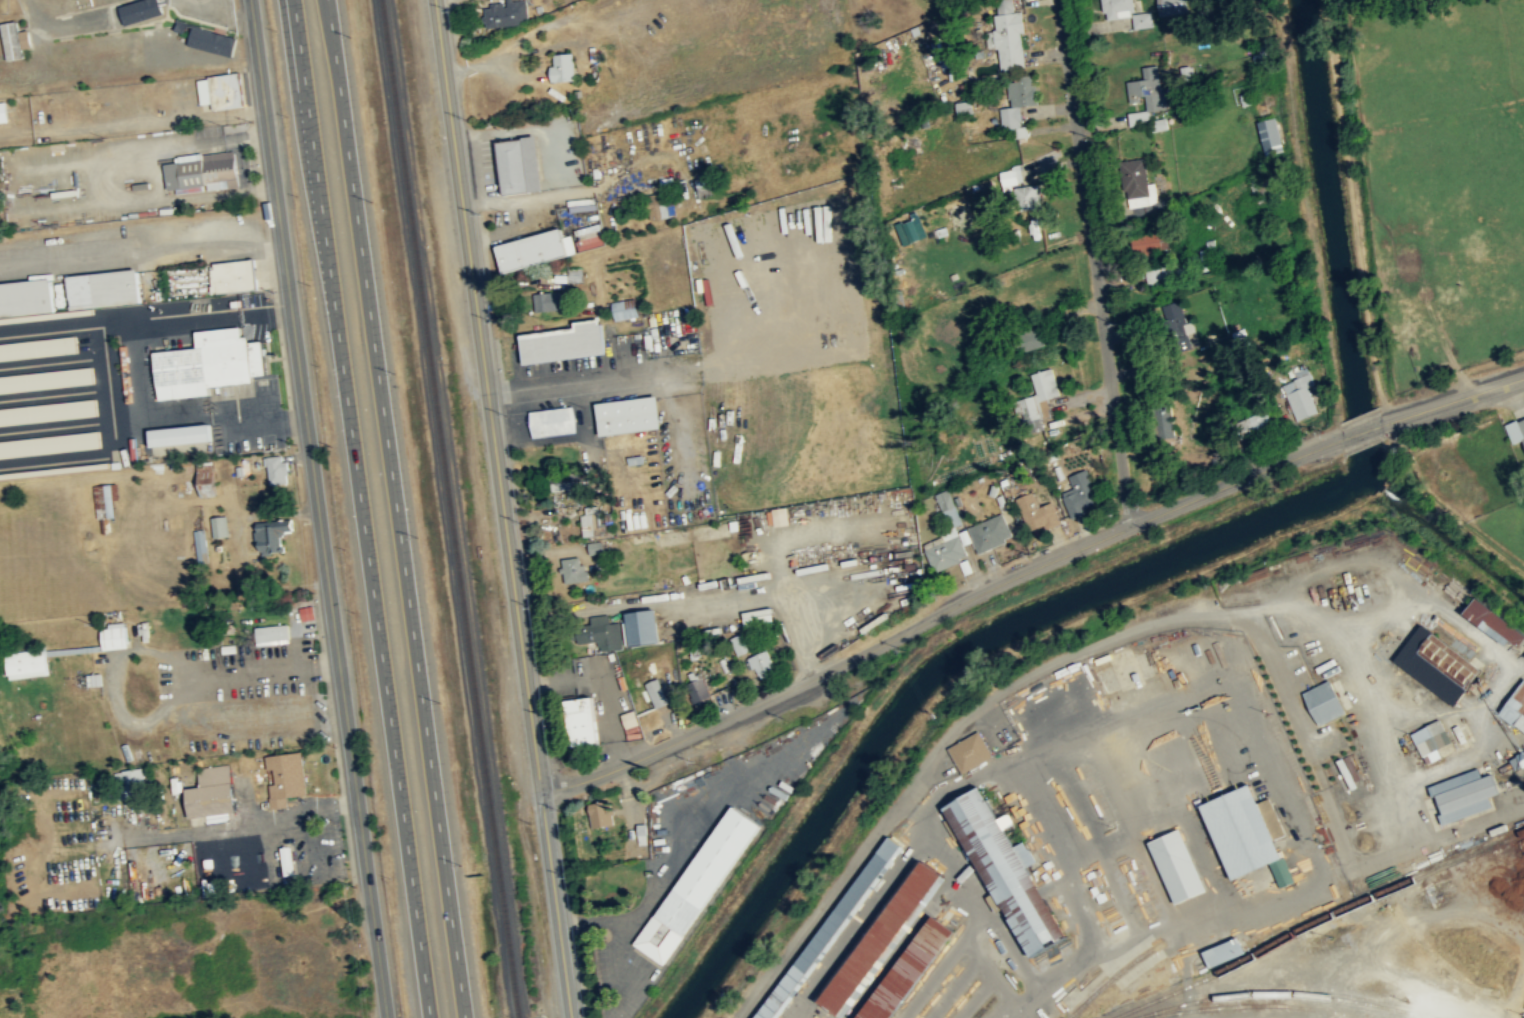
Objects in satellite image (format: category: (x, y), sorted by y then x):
building: (1168, 7)
building: (1116, 8)
building: (141, 10)
building: (502, 13)
building: (1140, 19)
building: (1008, 34)
building: (15, 39)
building: (213, 40)
building: (558, 66)
building: (1147, 90)
building: (1018, 102)
building: (961, 107)
building: (4, 112)
building: (1136, 117)
building: (1269, 136)
building: (513, 165)
building: (203, 171)
building: (1011, 175)
building: (1137, 184)
building: (1027, 195)
building: (904, 231)
building: (585, 239)
building: (1148, 241)
building: (528, 250)
road: (1100, 262)
building: (1166, 271)
building: (235, 275)
building: (105, 288)
building: (27, 298)
building: (544, 300)
building: (621, 308)
building: (1178, 335)
building: (1187, 340)
building: (559, 342)
building: (38, 347)
building: (209, 363)
building: (46, 379)
building: (1038, 394)
building: (1299, 397)
road: (1452, 400)
building: (48, 412)
building: (622, 414)
building: (549, 421)
building: (1163, 423)
building: (1522, 424)
road: (1361, 431)
building: (180, 434)
building: (1523, 438)
building: (49, 444)
building: (277, 470)
building: (206, 473)
building: (562, 482)
building: (1080, 495)
road: (362, 508)
road: (396, 508)
road: (503, 508)
road: (318, 509)
railway: (450, 509)
building: (1036, 514)
building: (776, 516)
building: (949, 516)
building: (589, 521)
building: (220, 526)
crop: (1500, 532)
building: (990, 533)
building: (273, 535)
building: (201, 545)
building: (592, 547)
building: (945, 552)
building: (578, 576)
building: (307, 612)
road: (940, 613)
building: (753, 617)
building: (636, 626)
building: (1495, 626)
building: (596, 632)
building: (272, 633)
building: (115, 636)
building: (737, 643)
building: (1436, 660)
building: (27, 662)
building: (759, 662)
building: (695, 688)
building: (653, 692)
building: (1324, 701)
building: (1515, 707)
building: (574, 720)
building: (1430, 740)
building: (969, 750)
building: (1518, 760)
building: (286, 777)
building: (135, 783)
building: (213, 792)
building: (1463, 795)
road: (707, 811)
building: (597, 814)
building: (639, 833)
building: (1246, 834)
building: (1177, 866)
building: (1005, 869)
building: (691, 884)
railway: (1315, 920)
road: (621, 924)
building: (830, 929)
building: (878, 936)
building: (1223, 951)
building: (906, 970)
railway: (1106, 981)
railway: (1288, 992)
railway: (1250, 1004)

